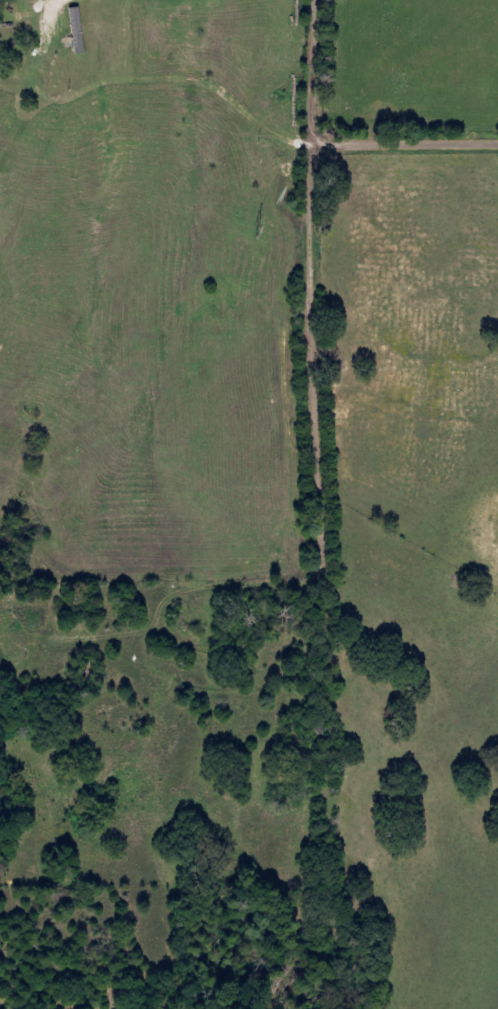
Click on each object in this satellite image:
building: (80, 30)
road: (310, 65)
road: (414, 126)
power tower: (260, 232)
road: (323, 570)

